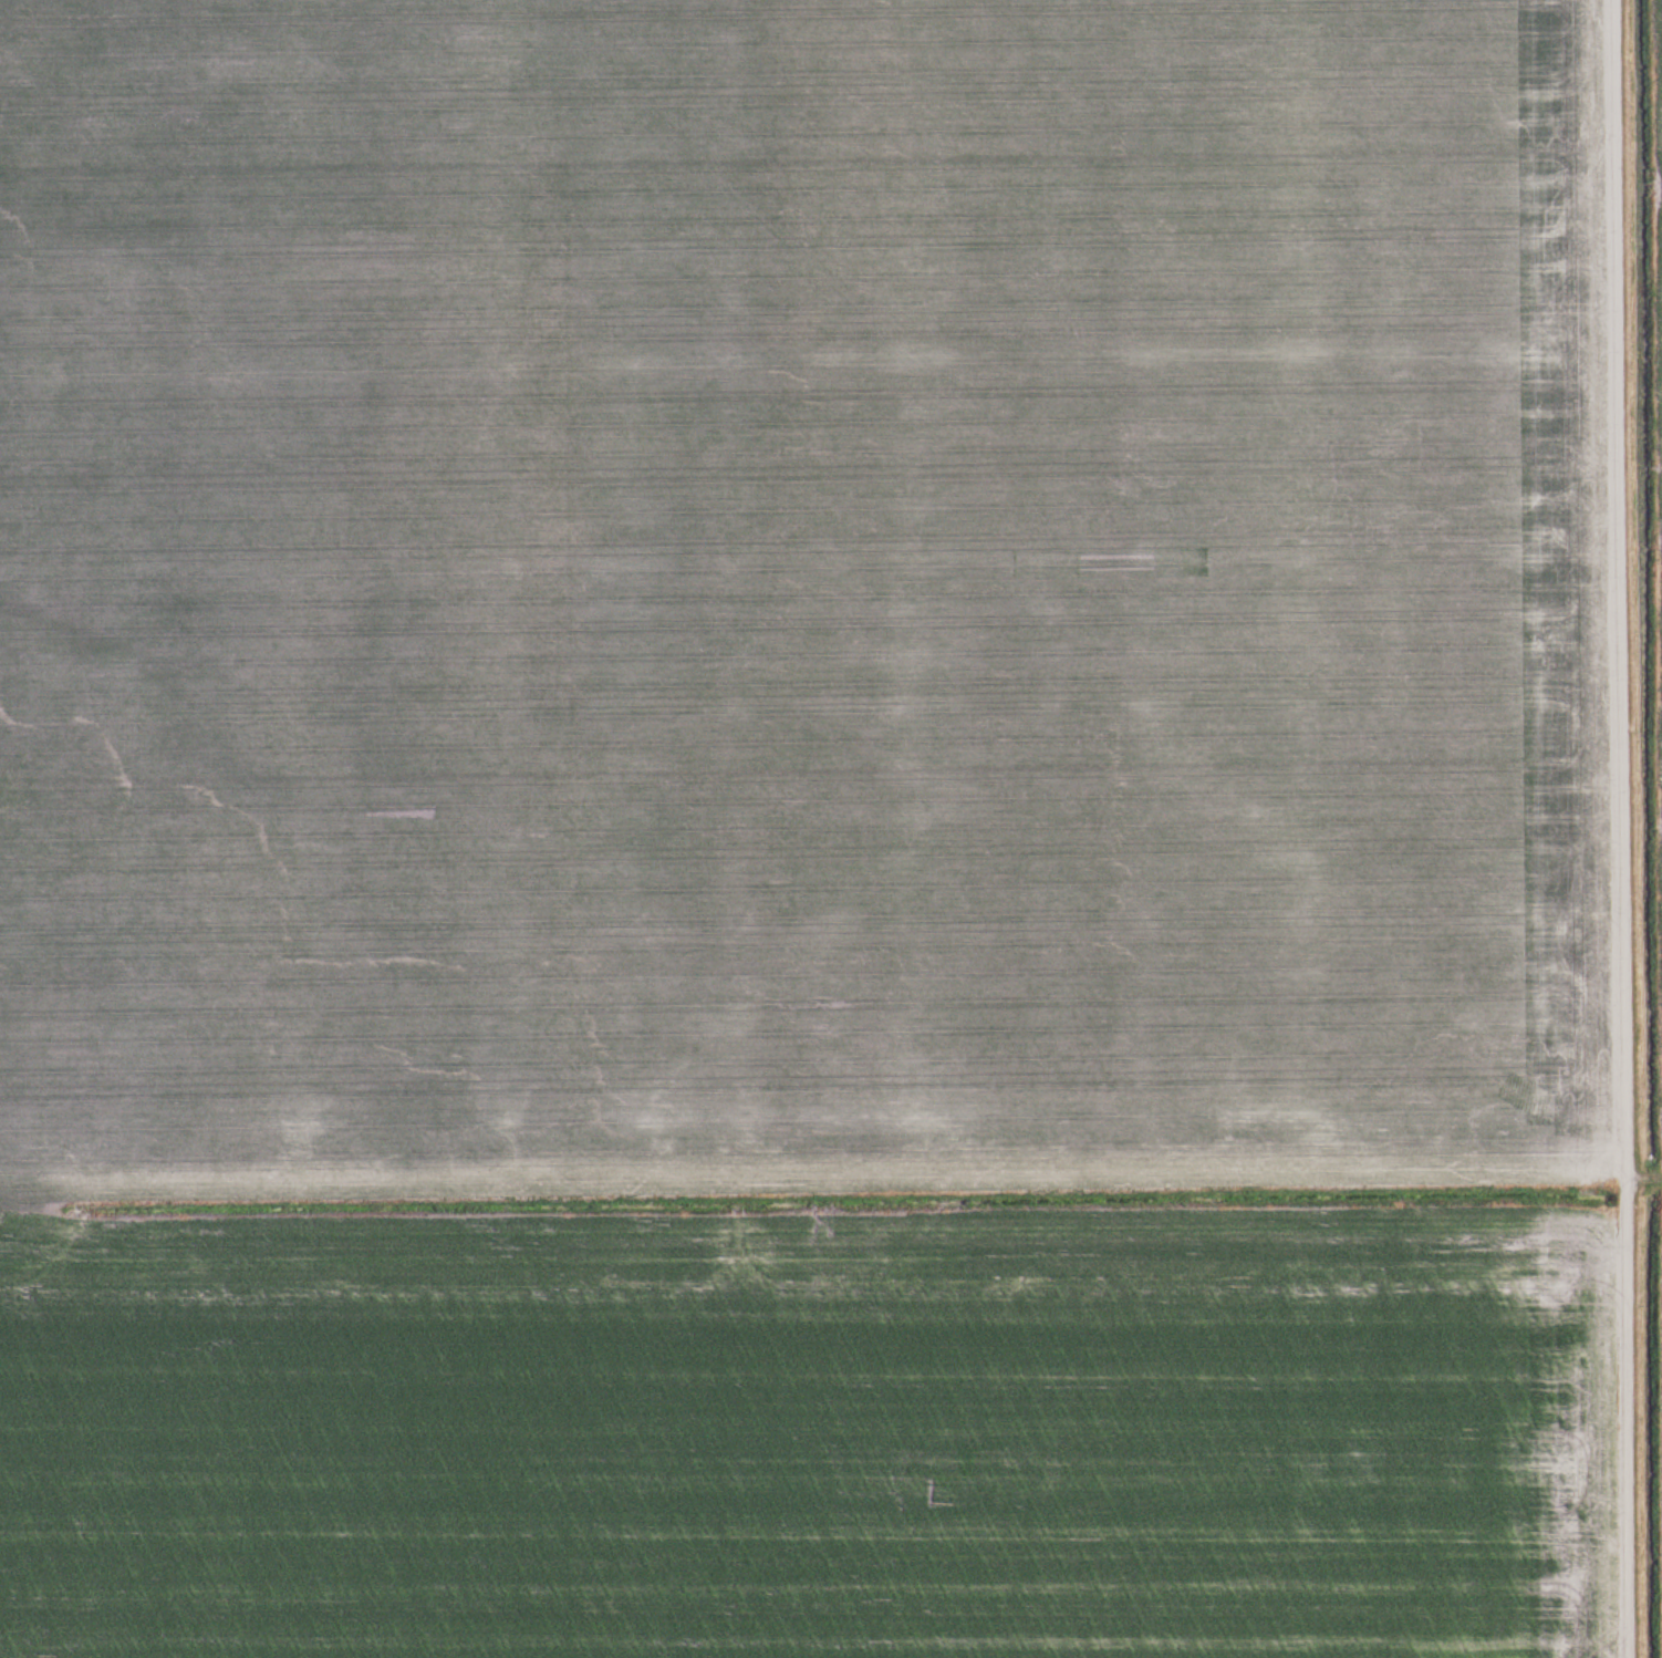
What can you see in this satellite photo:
crop: (1659, 579)
road: (1625, 828)
crop: (806, 829)

